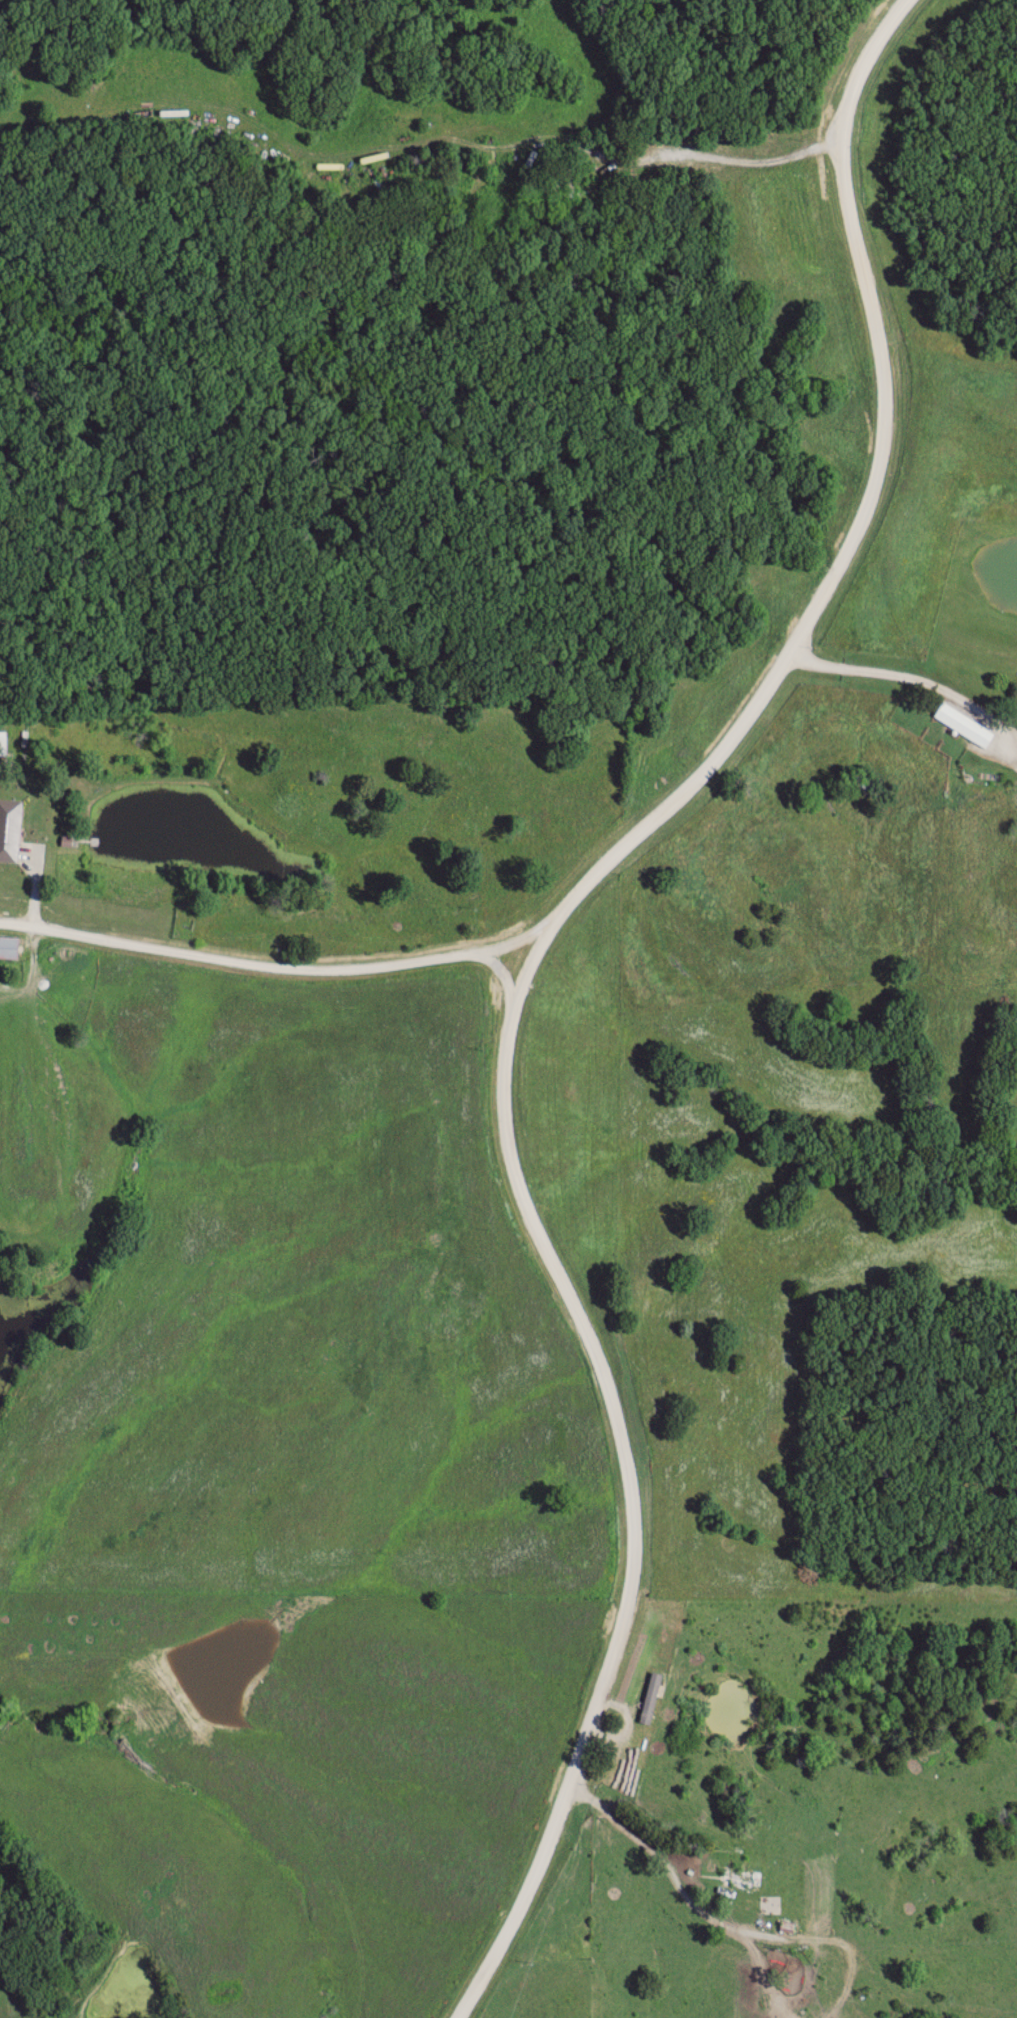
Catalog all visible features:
road: (856, 528)
road: (913, 679)
building: (967, 726)
building: (4, 745)
building: (10, 831)
building: (10, 949)
road: (253, 963)
road: (625, 1490)
building: (653, 1699)
building: (738, 1873)
building: (832, 1980)

